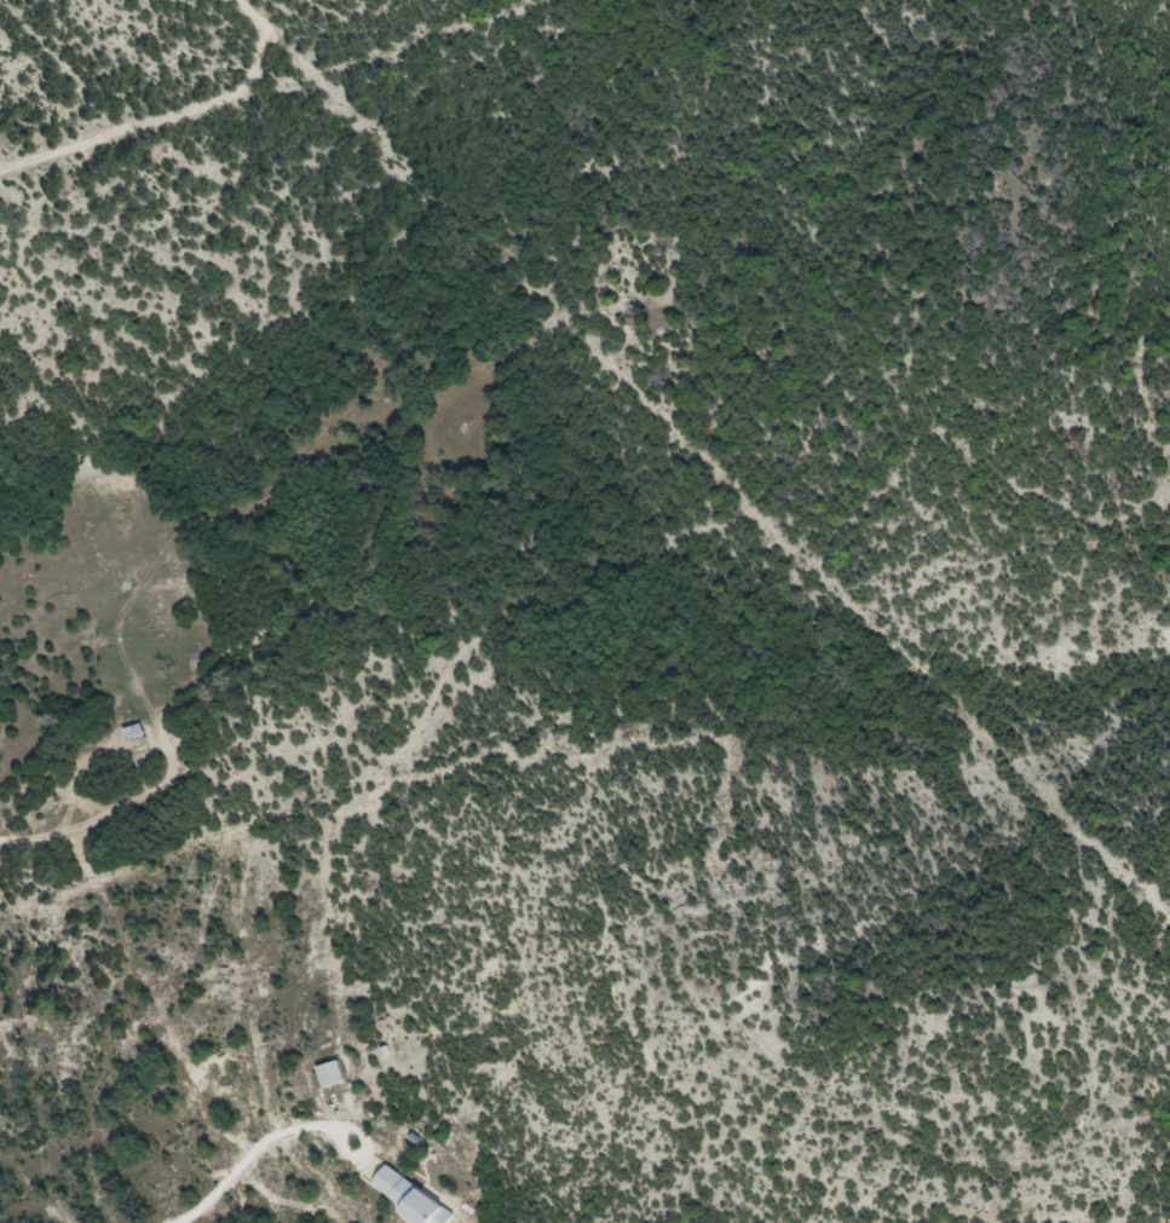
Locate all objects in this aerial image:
building: (333, 1077)
road: (258, 1156)
building: (422, 1205)

